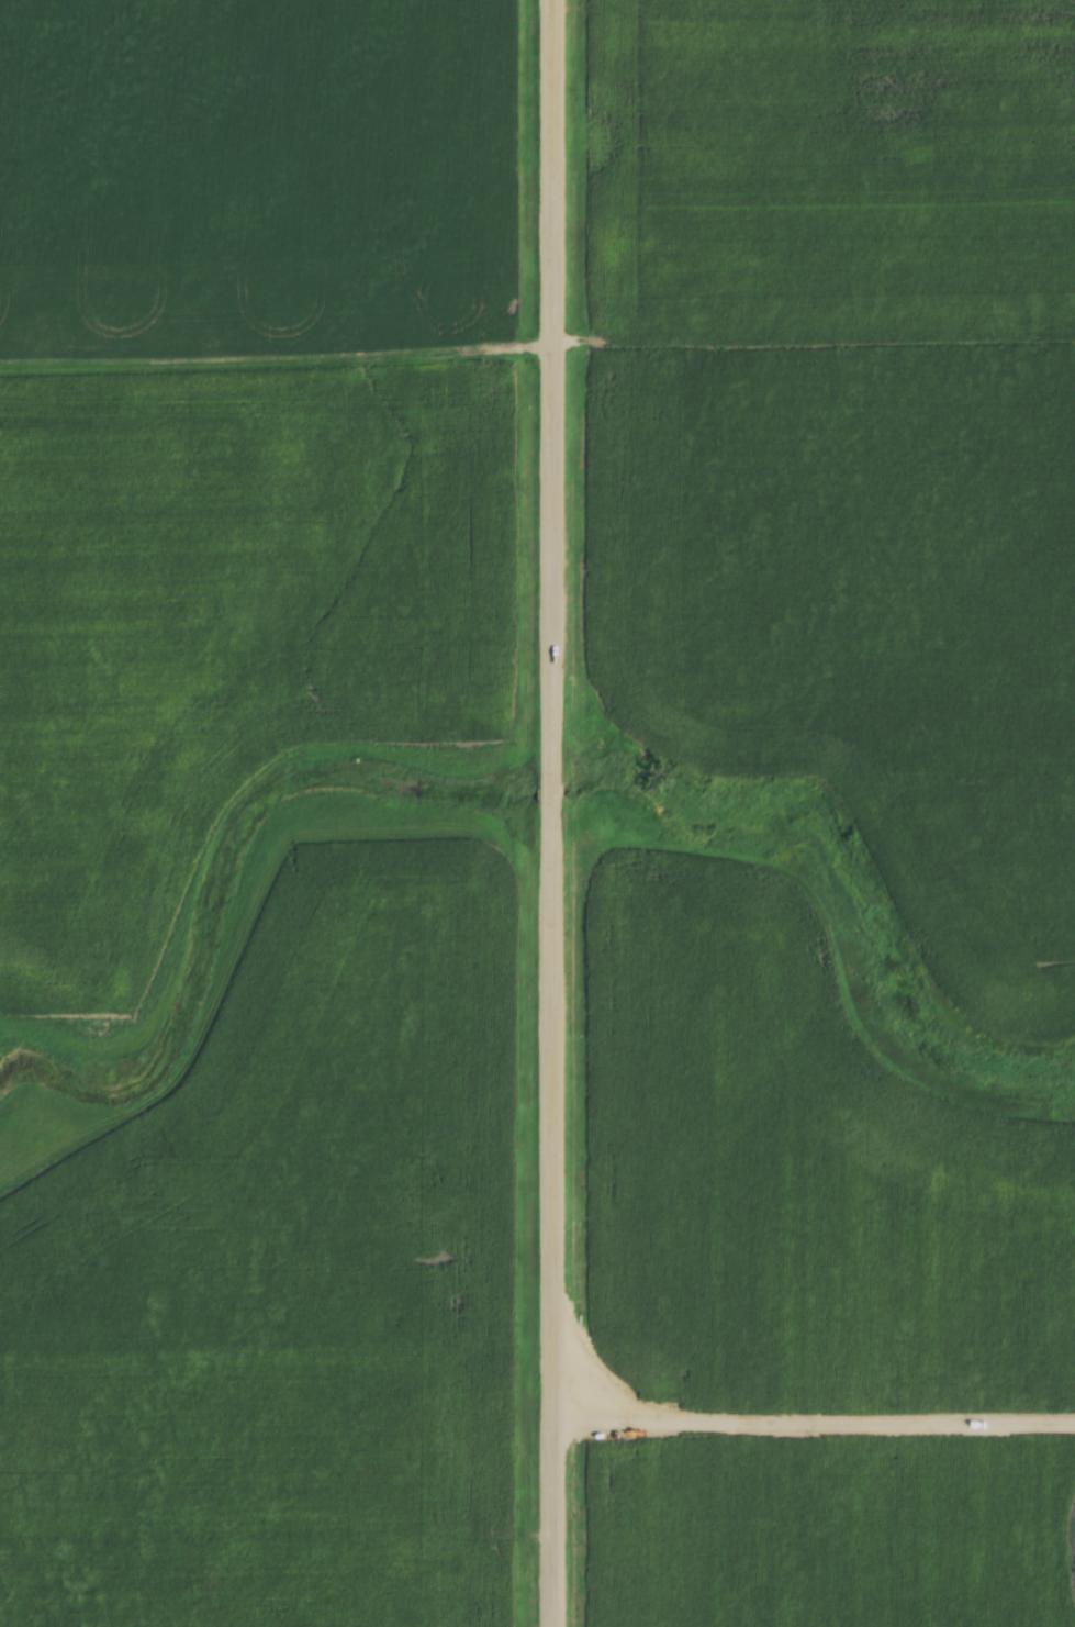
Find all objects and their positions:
road: (276, 354)
road: (551, 813)

